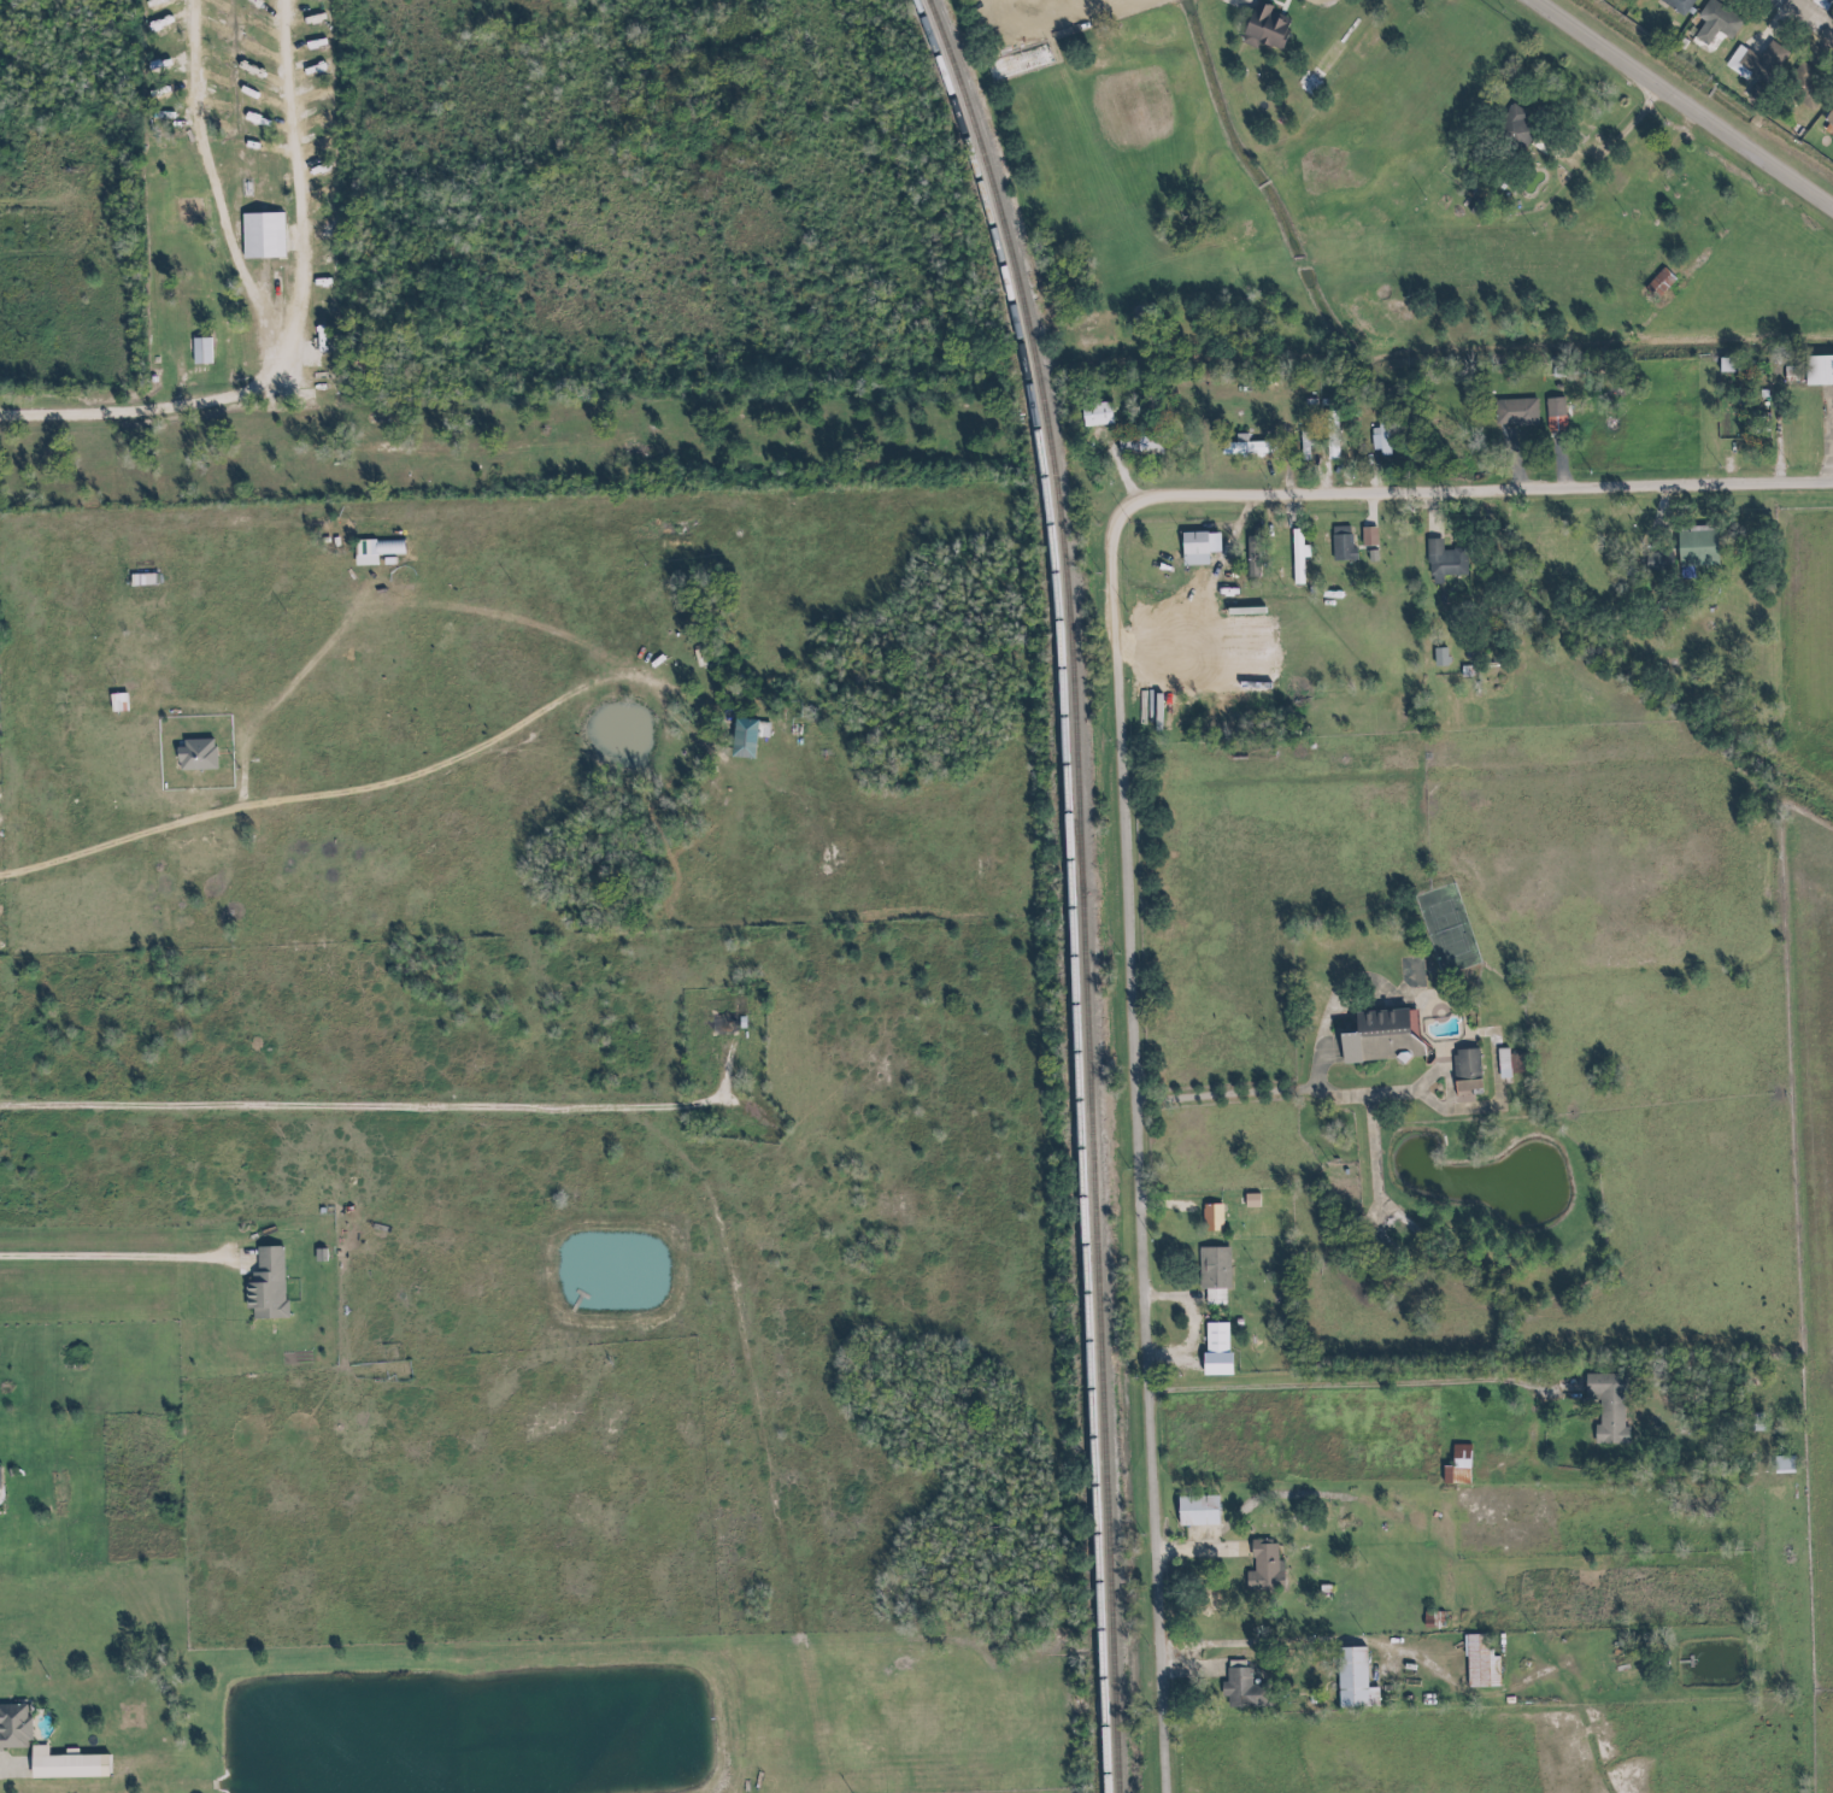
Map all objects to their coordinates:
building: (1670, 5)
road: (1809, 6)
road: (1809, 16)
building: (1709, 20)
building: (1259, 25)
road: (1762, 25)
road: (1048, 29)
road: (1814, 47)
building: (1752, 66)
building: (1323, 67)
building: (1802, 87)
road: (1681, 106)
building: (1827, 114)
building: (1515, 131)
road: (1614, 133)
building: (1550, 146)
building: (186, 153)
building: (187, 208)
building: (257, 233)
park: (1362, 316)
road: (300, 341)
building: (196, 351)
building: (1817, 369)
building: (1510, 411)
building: (1551, 415)
building: (1097, 416)
road: (1828, 431)
road: (1770, 437)
building: (1332, 439)
building: (1386, 443)
building: (1140, 447)
building: (1246, 448)
road: (1509, 460)
road: (1555, 462)
road: (1657, 512)
road: (1421, 513)
building: (1336, 545)
building: (1694, 545)
building: (1189, 547)
building: (1257, 555)
building: (1298, 558)
building: (1439, 558)
building: (1652, 560)
building: (143, 581)
building: (1441, 659)
building: (1392, 665)
building: (762, 730)
road: (1130, 796)
railway: (1083, 887)
park: (1439, 929)
park: (1406, 974)
building: (1377, 1036)
building: (1461, 1062)
building: (1498, 1063)
building: (1504, 1065)
road: (1302, 1087)
road: (398, 1105)
road: (1368, 1157)
road: (1192, 1198)
building: (1245, 1200)
building: (1206, 1210)
building: (1214, 1217)
road: (1193, 1223)
road: (123, 1257)
building: (1208, 1274)
building: (265, 1285)
road: (1175, 1297)
building: (1211, 1336)
road: (1177, 1357)
building: (1214, 1359)
road: (1361, 1386)
building: (1603, 1404)
road: (1522, 1444)
building: (1778, 1463)
building: (1452, 1466)
building: (0, 1480)
building: (1192, 1510)
road: (1204, 1552)
building: (1259, 1565)
building: (1427, 1619)
road: (1310, 1644)
building: (1475, 1662)
road: (1383, 1663)
building: (1350, 1679)
building: (1230, 1685)
building: (14, 1728)
building: (61, 1765)
road: (7, 1769)

